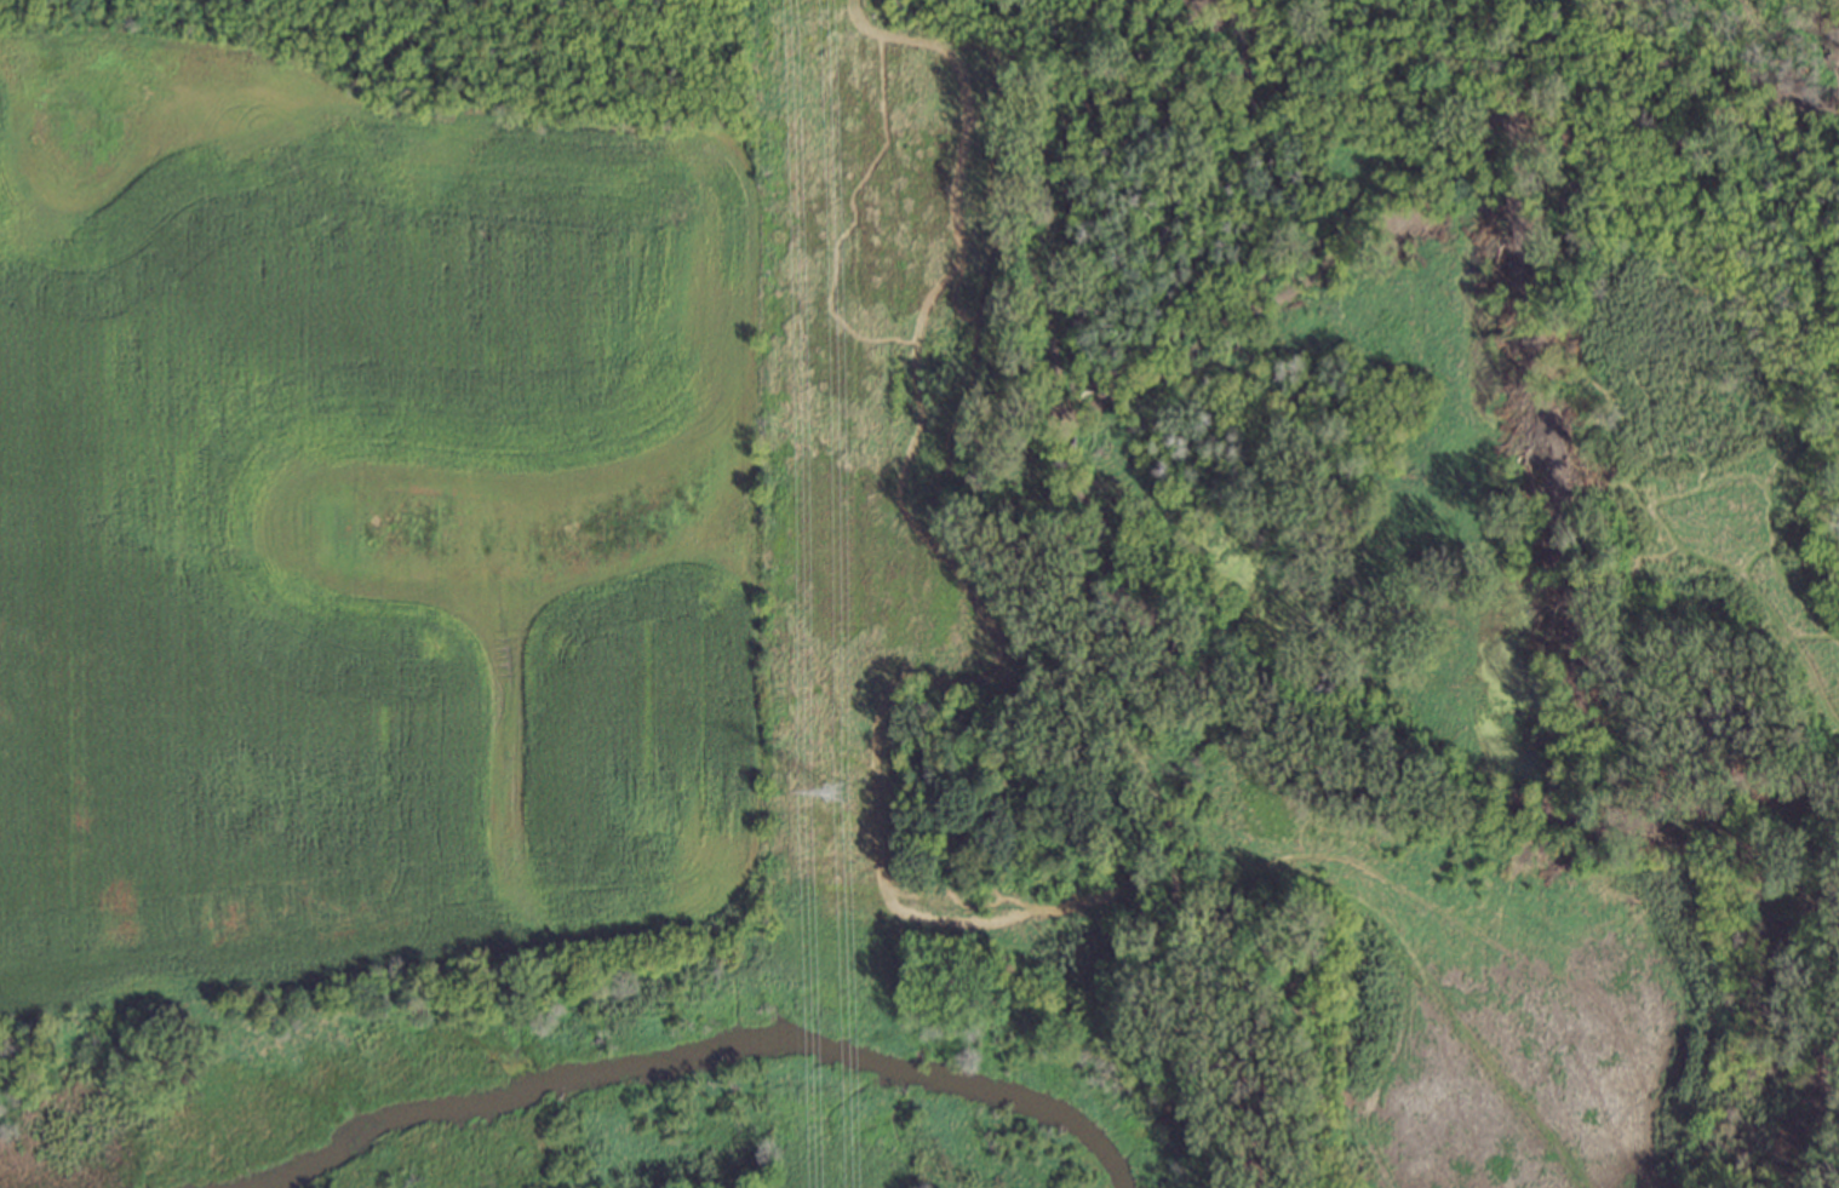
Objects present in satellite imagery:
river: (1672, 65)
power tower: (838, 796)
river: (664, 1067)

